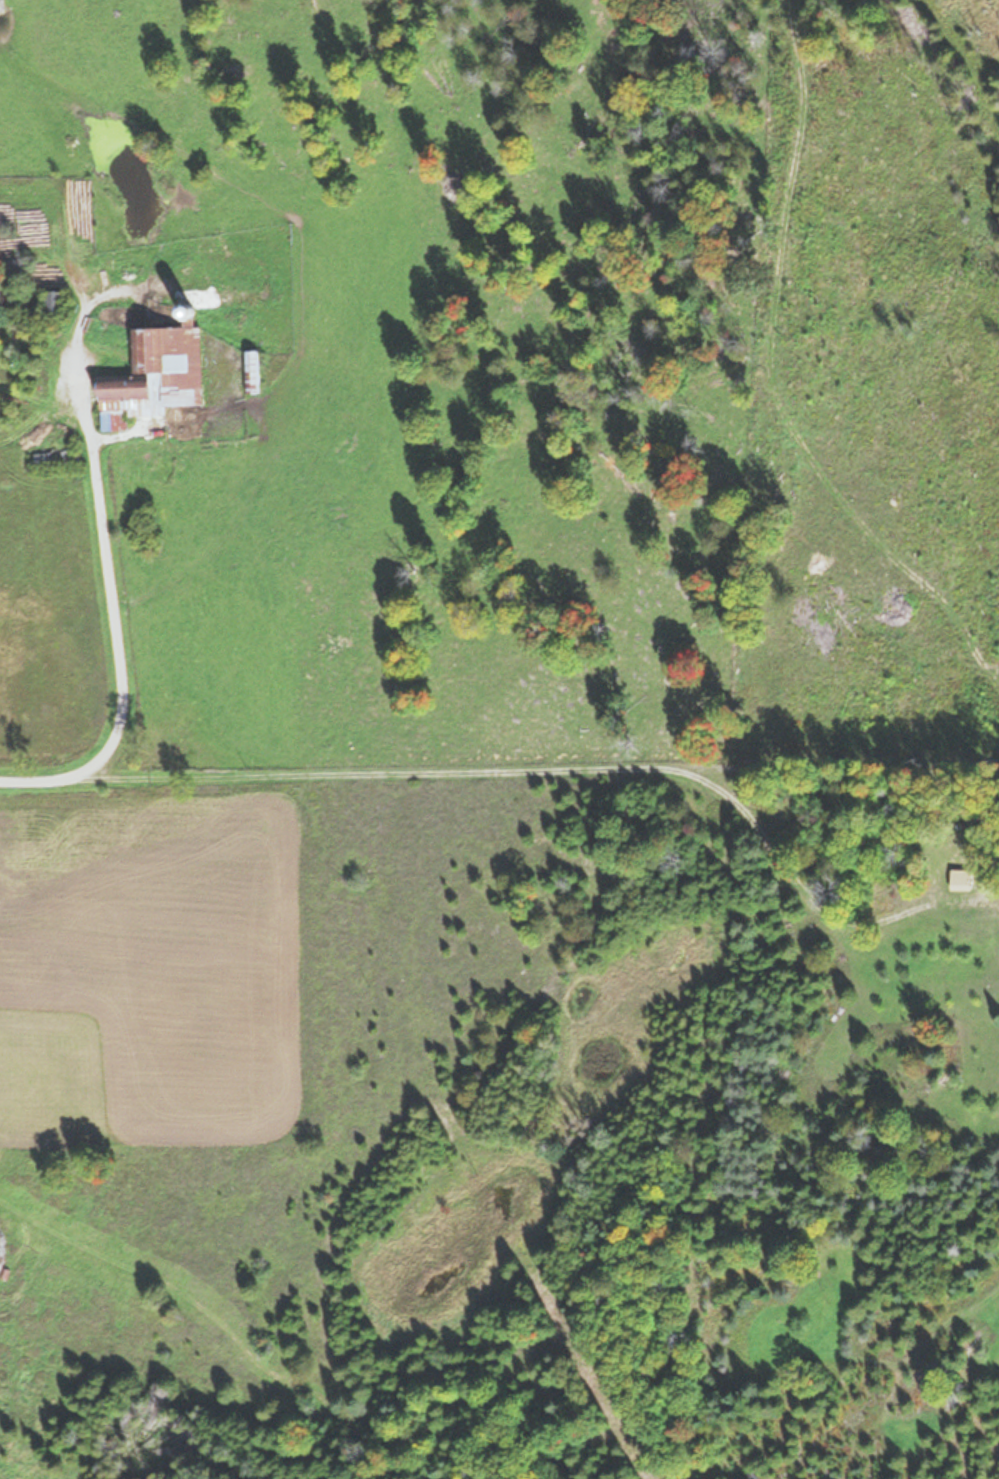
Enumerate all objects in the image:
building: (57, 302)
building: (253, 370)
building: (158, 376)
building: (56, 459)
road: (113, 625)
building: (967, 880)

